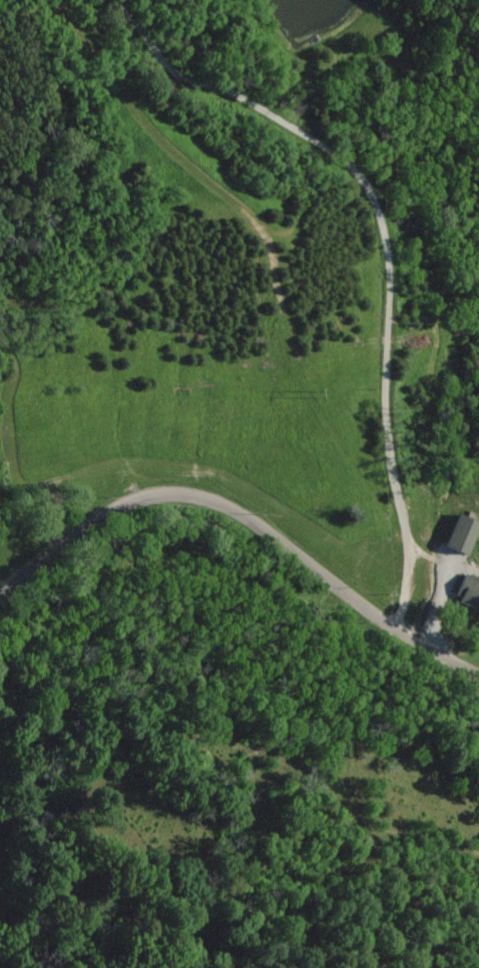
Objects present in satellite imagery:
road: (385, 244)
road: (245, 513)
building: (464, 533)
building: (469, 590)

